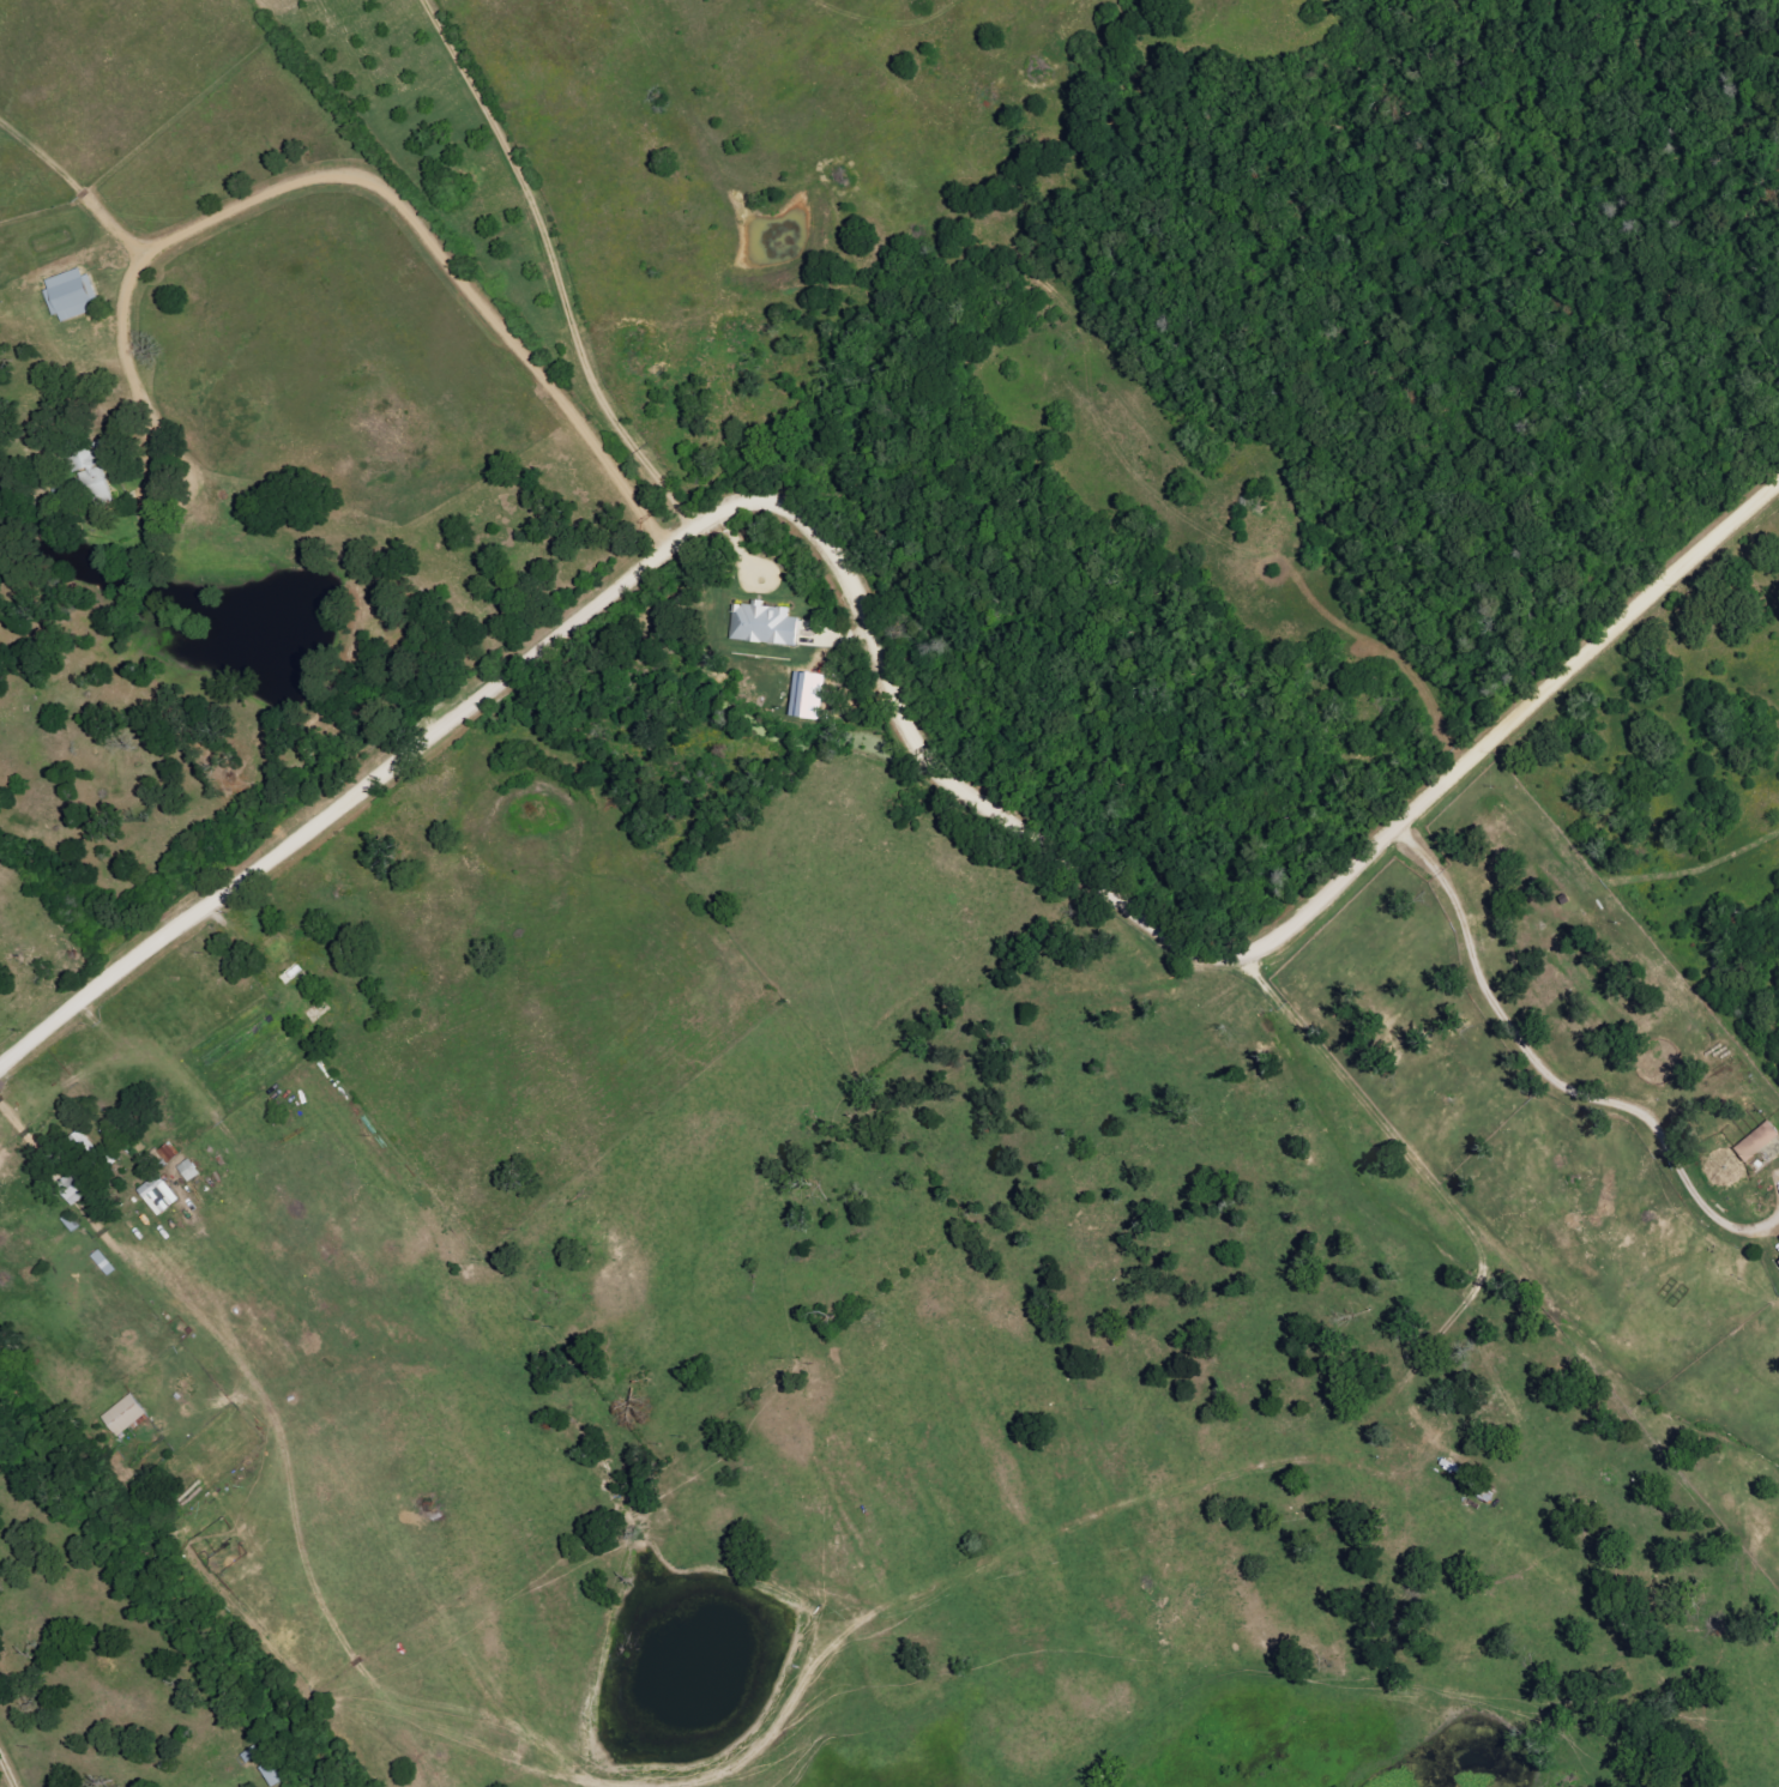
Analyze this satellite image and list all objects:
road: (420, 221)
road: (561, 267)
building: (70, 295)
building: (762, 624)
road: (887, 674)
building: (806, 695)
road: (1447, 881)
road: (1612, 1101)
building: (1755, 1142)
building: (168, 1152)
building: (84, 1169)
building: (187, 1171)
building: (157, 1195)
building: (1778, 1263)
building: (122, 1417)
road: (95, 1534)
road: (13, 1762)

